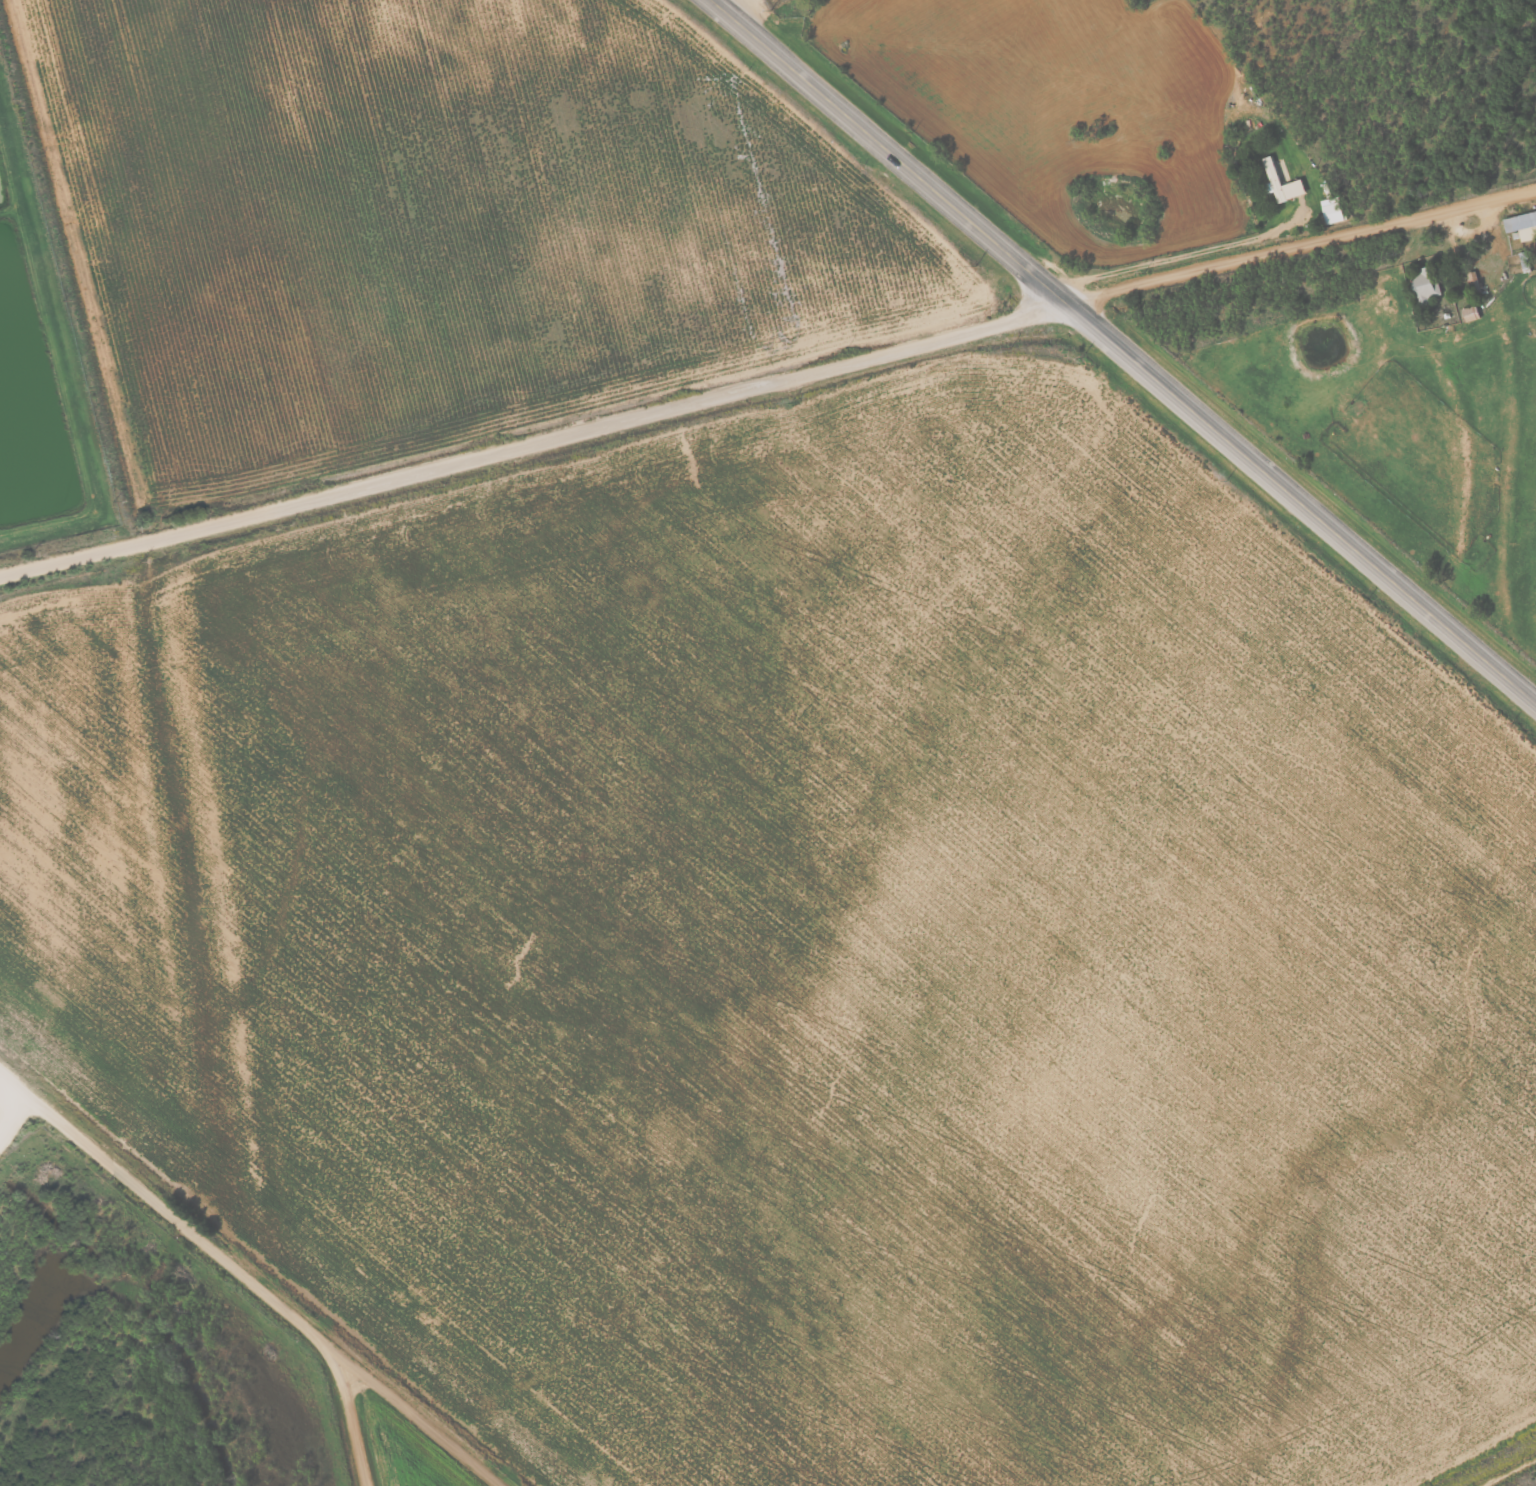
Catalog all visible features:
building: (1276, 179)
building: (1333, 210)
building: (1523, 225)
road: (1299, 245)
road: (1153, 263)
building: (1518, 263)
building: (1427, 285)
building: (1472, 314)
road: (1120, 351)
road: (531, 439)
railway: (282, 1253)
road: (241, 1285)
road: (339, 1420)

